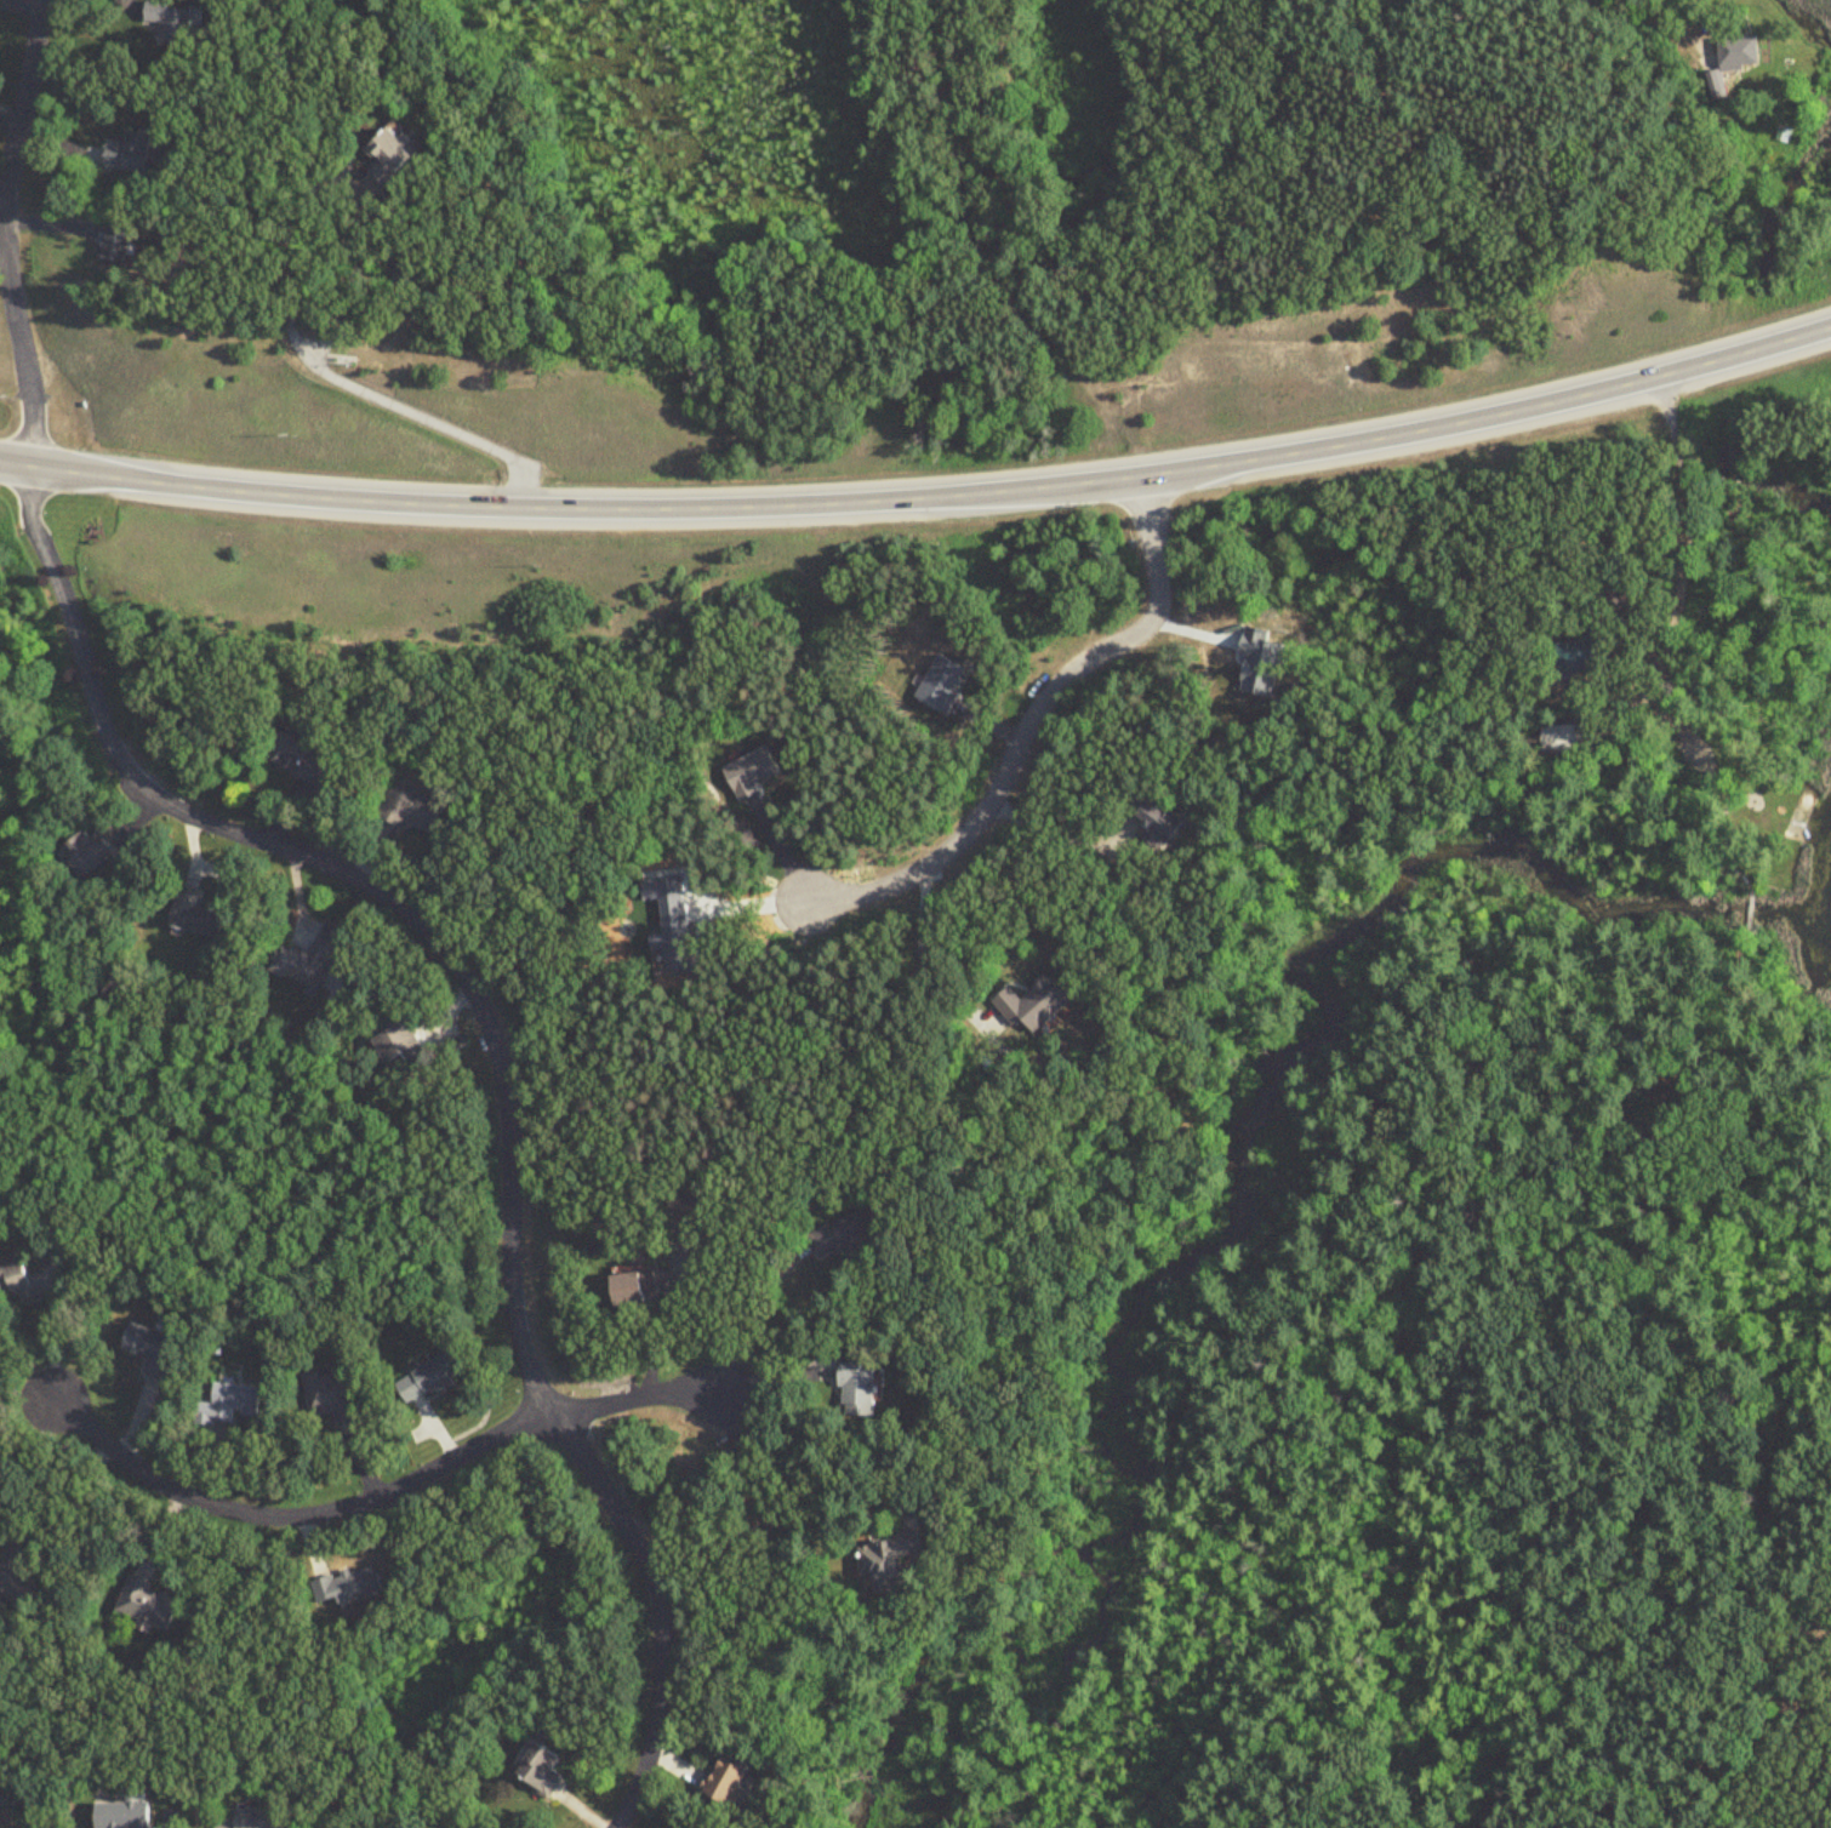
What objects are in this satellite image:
road: (1670, 19)
building: (171, 22)
building: (1738, 59)
building: (129, 155)
building: (393, 156)
road: (6, 232)
building: (114, 244)
road: (349, 305)
road: (923, 496)
road: (1666, 505)
road: (1029, 719)
building: (298, 755)
building: (412, 809)
building: (1160, 819)
road: (1061, 835)
building: (89, 852)
building: (1137, 879)
building: (198, 914)
road: (323, 926)
building: (307, 961)
road: (925, 962)
building: (1037, 1004)
building: (401, 1044)
road: (498, 1058)
building: (850, 1234)
building: (21, 1280)
building: (643, 1285)
road: (764, 1307)
building: (152, 1347)
building: (430, 1378)
building: (859, 1387)
building: (333, 1394)
building: (236, 1400)
road: (786, 1469)
road: (377, 1496)
building: (886, 1564)
building: (18, 1579)
building: (352, 1586)
building: (150, 1604)
road: (1211, 1761)
building: (544, 1769)
building: (731, 1778)
building: (252, 1817)

